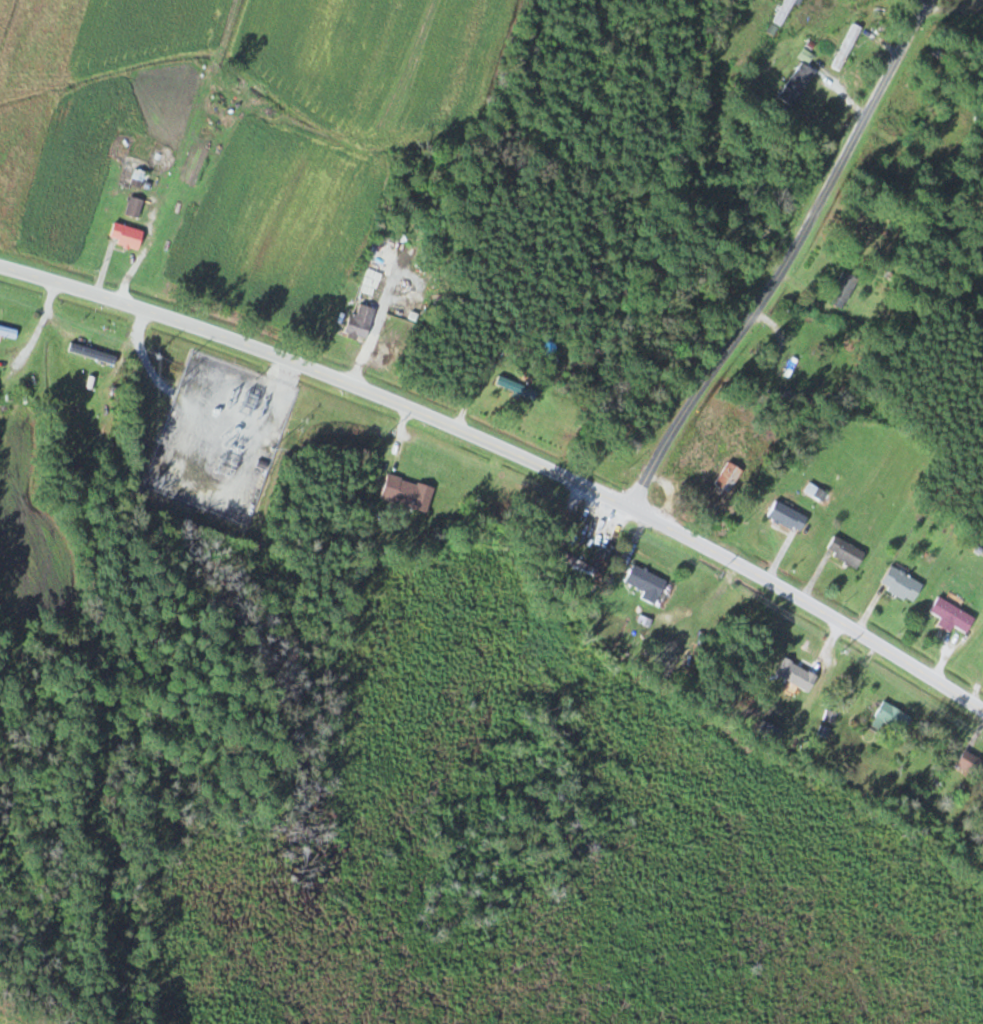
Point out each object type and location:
road: (911, 8)
building: (848, 47)
building: (940, 53)
building: (798, 84)
building: (139, 177)
building: (135, 206)
building: (763, 225)
building: (127, 235)
road: (781, 263)
building: (368, 286)
building: (844, 290)
building: (362, 321)
building: (8, 332)
building: (93, 353)
building: (788, 355)
road: (508, 449)
building: (729, 476)
building: (408, 493)
building: (788, 516)
building: (846, 552)
building: (648, 583)
building: (903, 584)
building: (953, 616)
building: (798, 675)
building: (894, 718)
building: (771, 732)
building: (971, 764)

